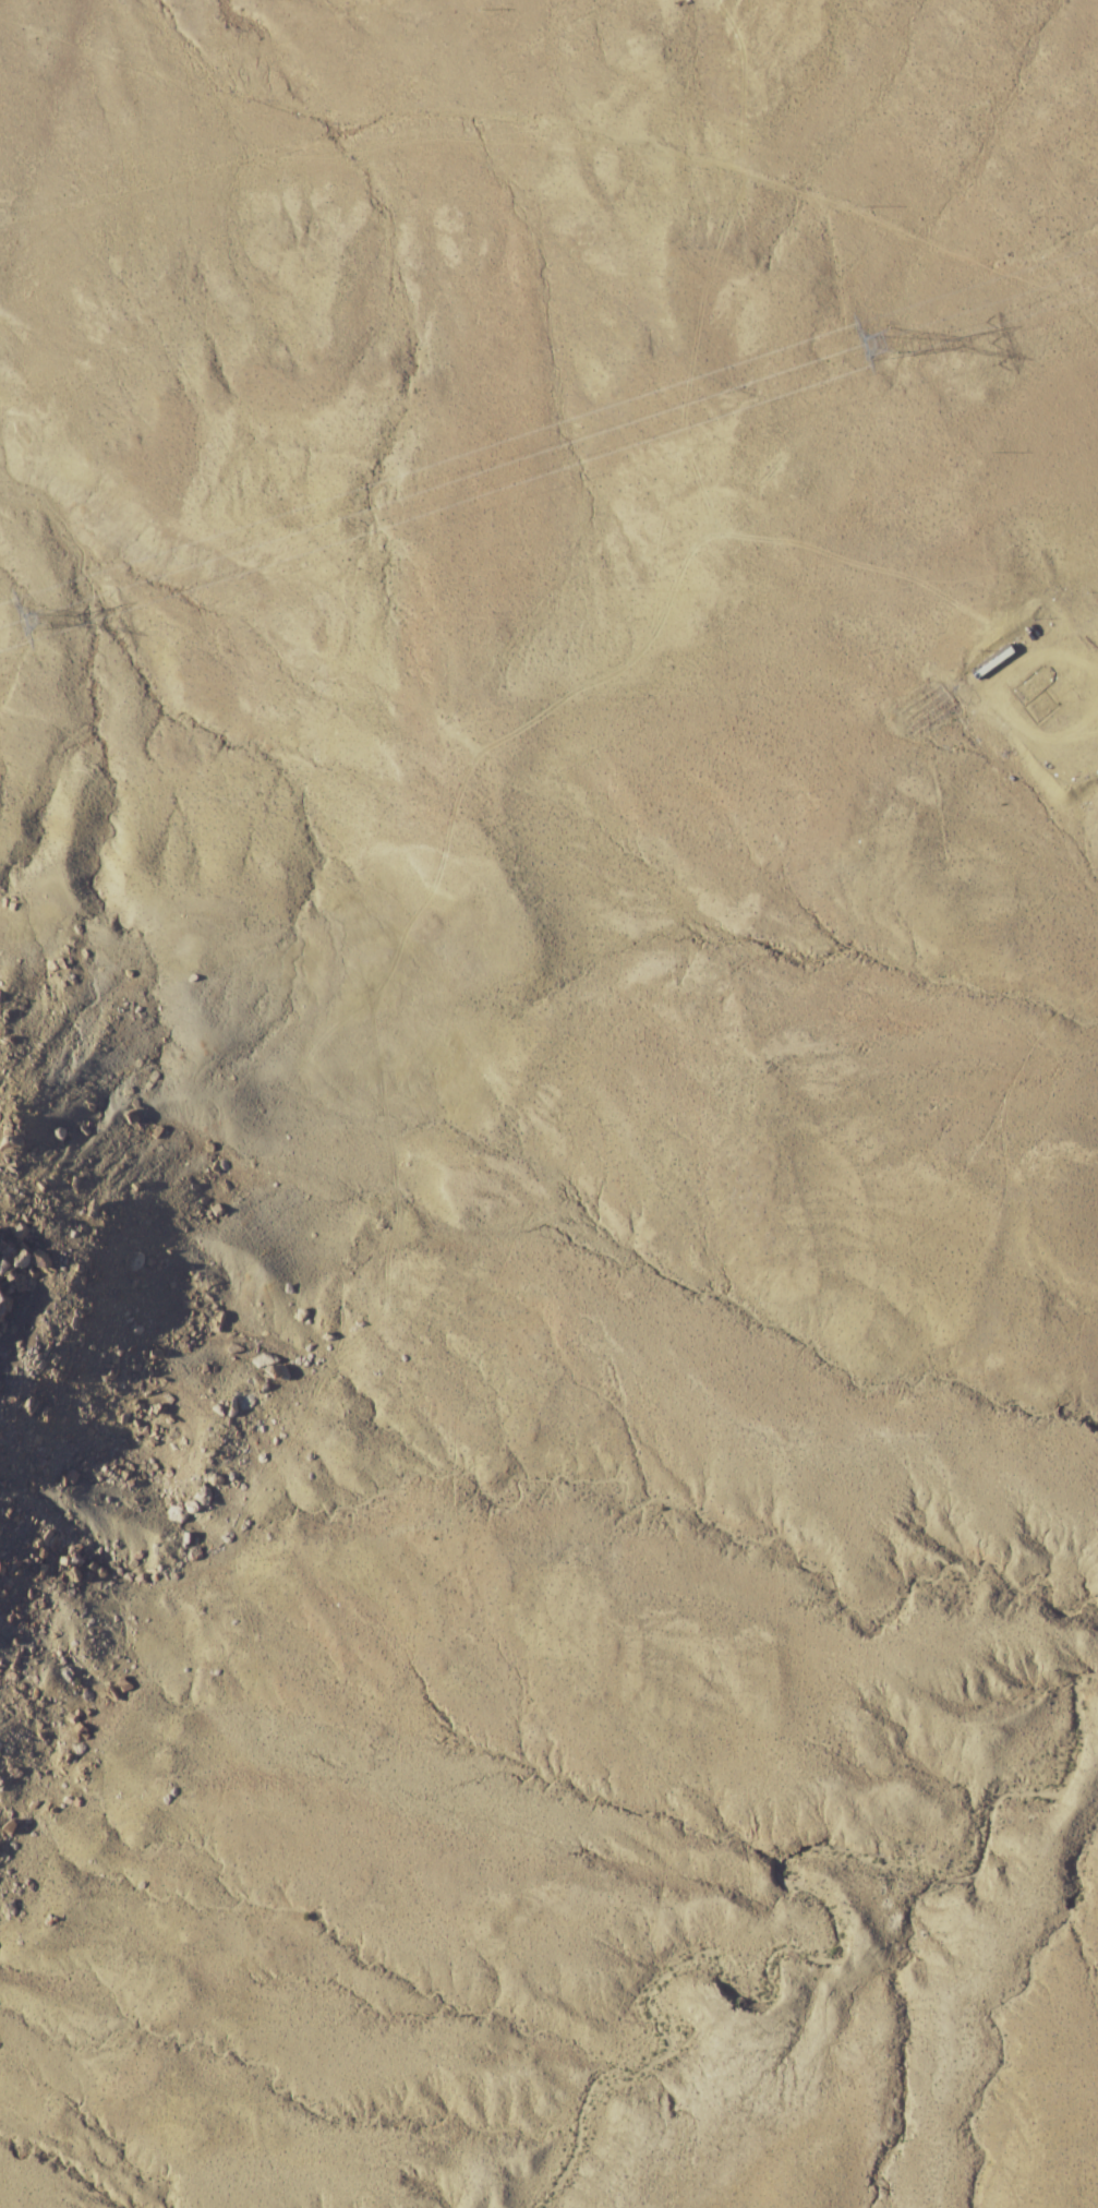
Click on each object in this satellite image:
road: (369, 145)
road: (750, 219)
power tower: (884, 344)
power tower: (47, 619)

